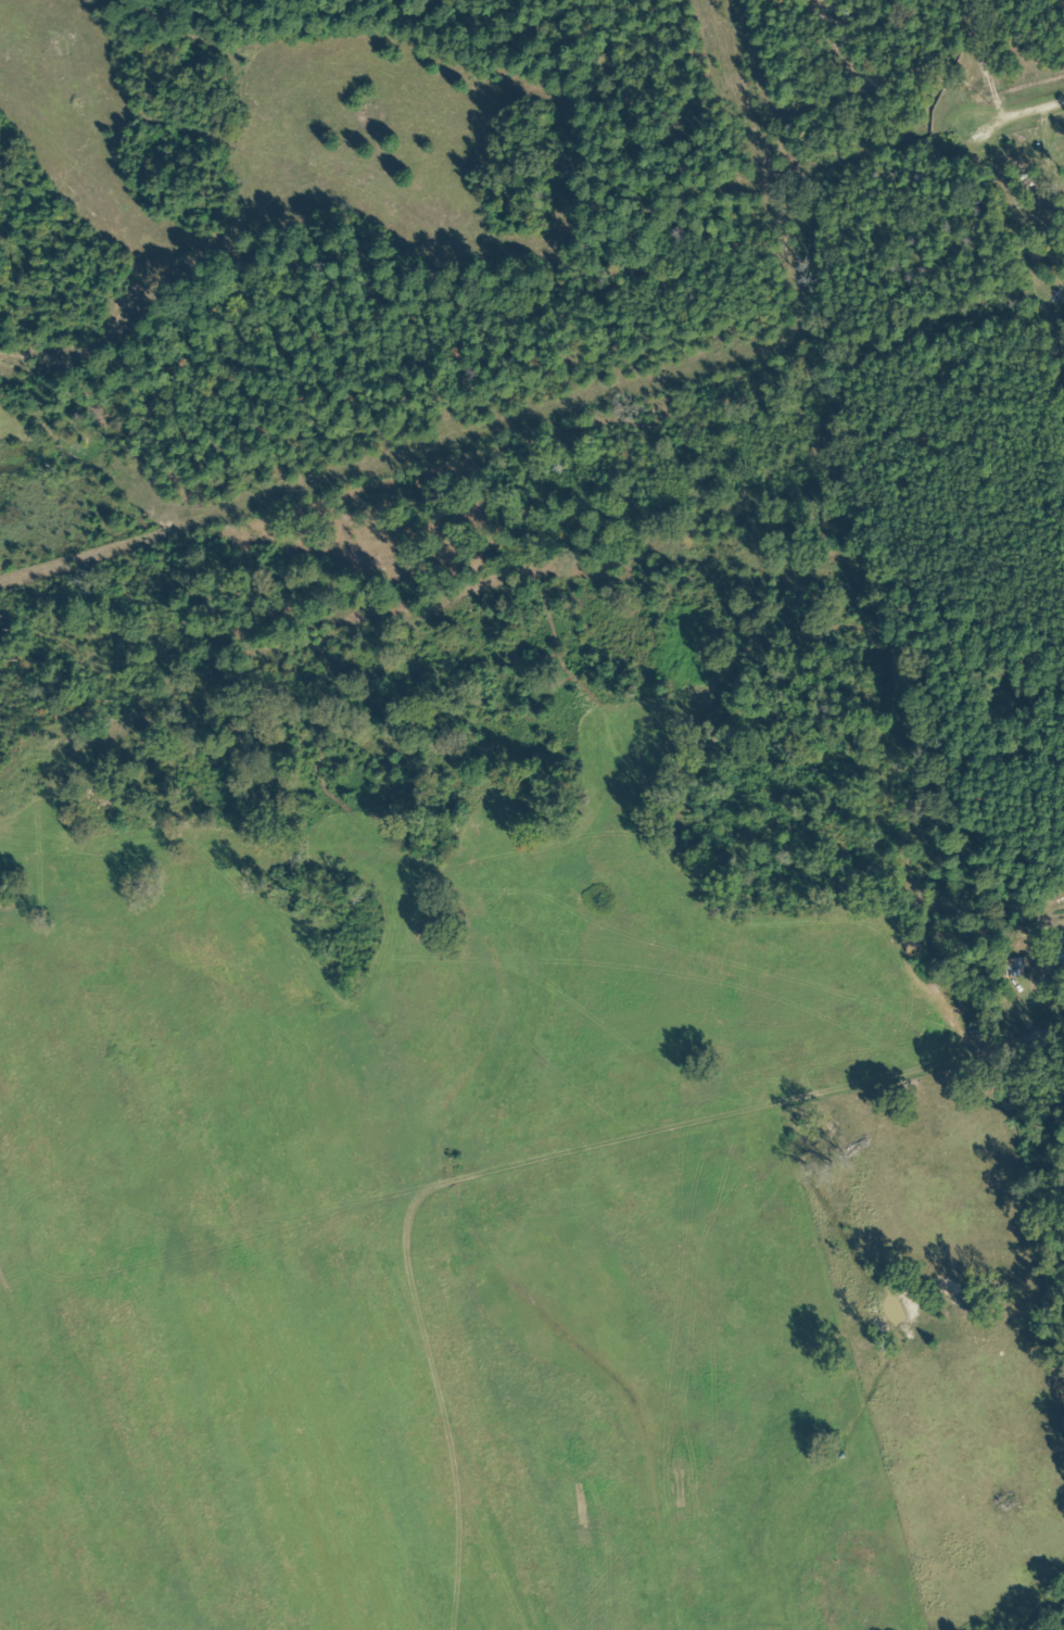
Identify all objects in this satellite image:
building: (1059, 955)
road: (1051, 995)

